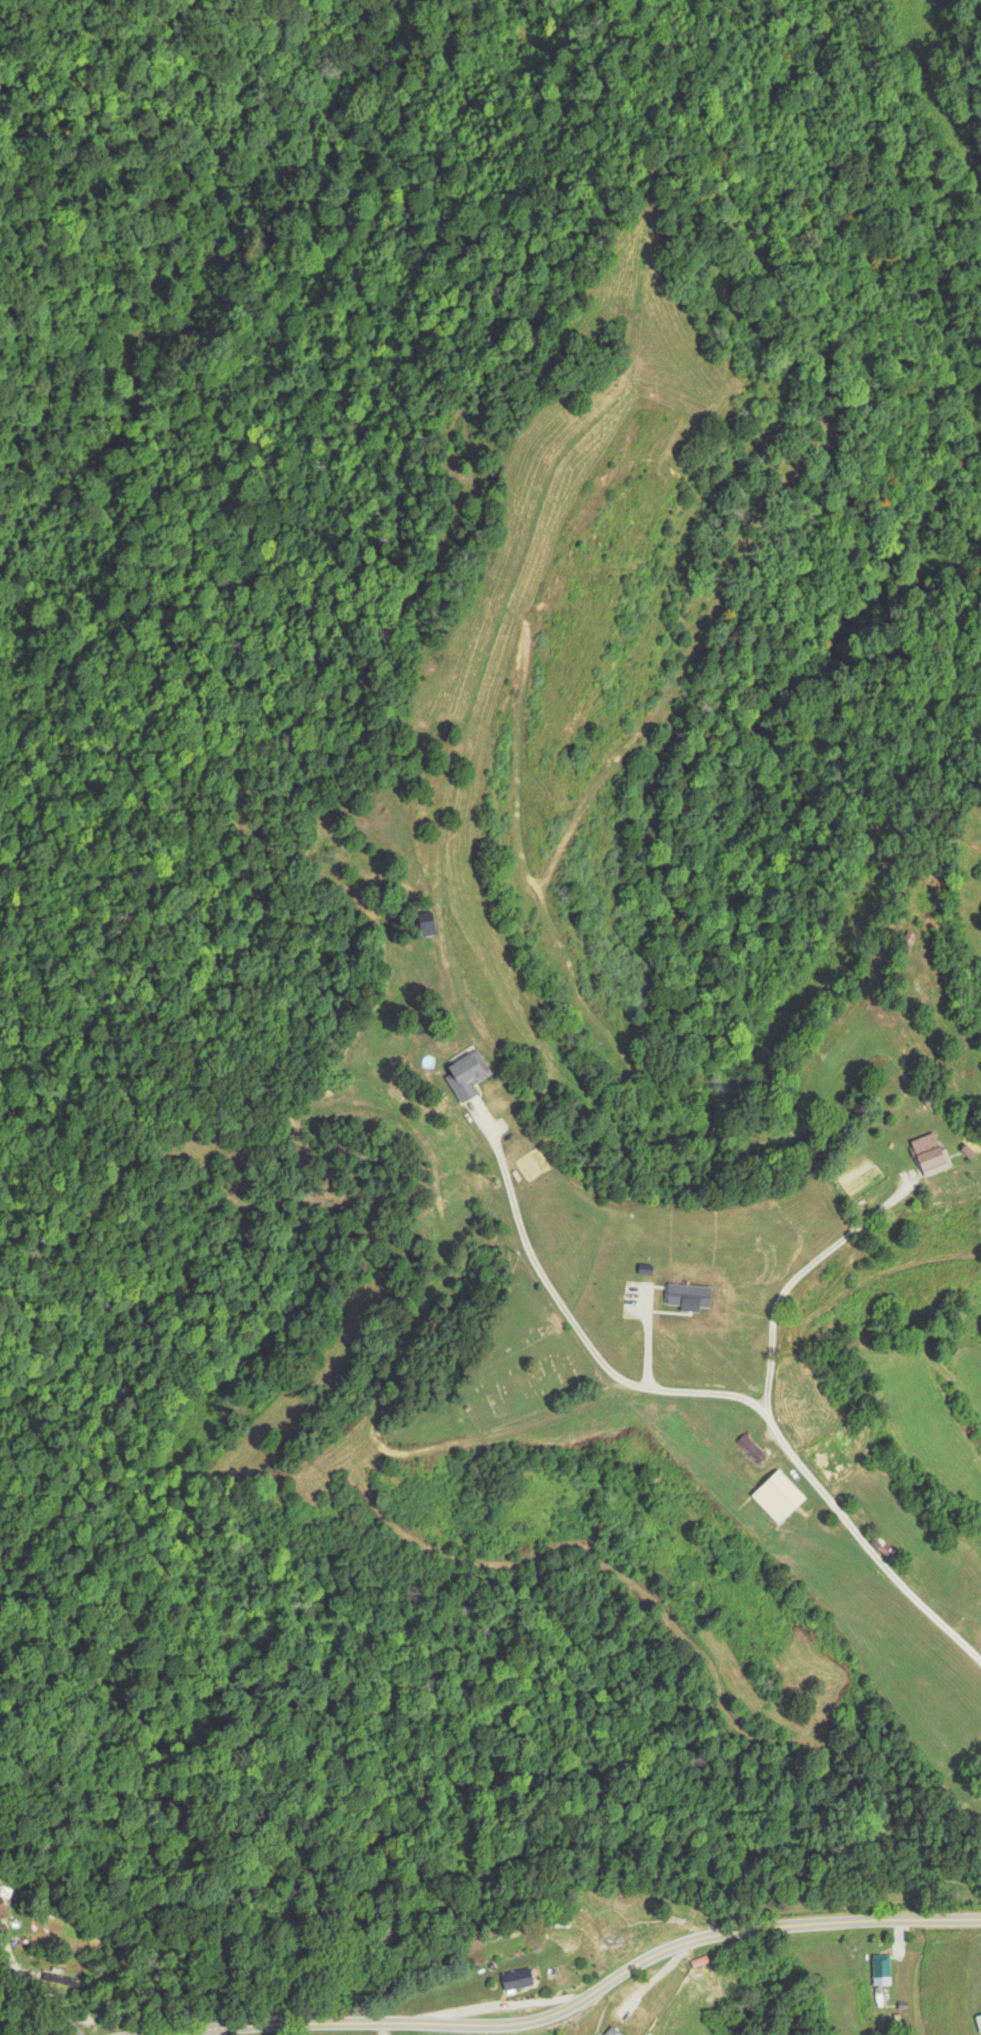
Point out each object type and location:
building: (465, 1074)
building: (929, 1154)
road: (774, 1277)
road: (553, 1310)
building: (751, 1448)
building: (831, 1468)
building: (777, 1496)
building: (612, 1931)
building: (562, 1941)
building: (882, 1971)
building: (516, 1978)
road: (577, 2001)
building: (978, 2021)
building: (88, 2024)
building: (610, 2031)
road: (217, 2033)

